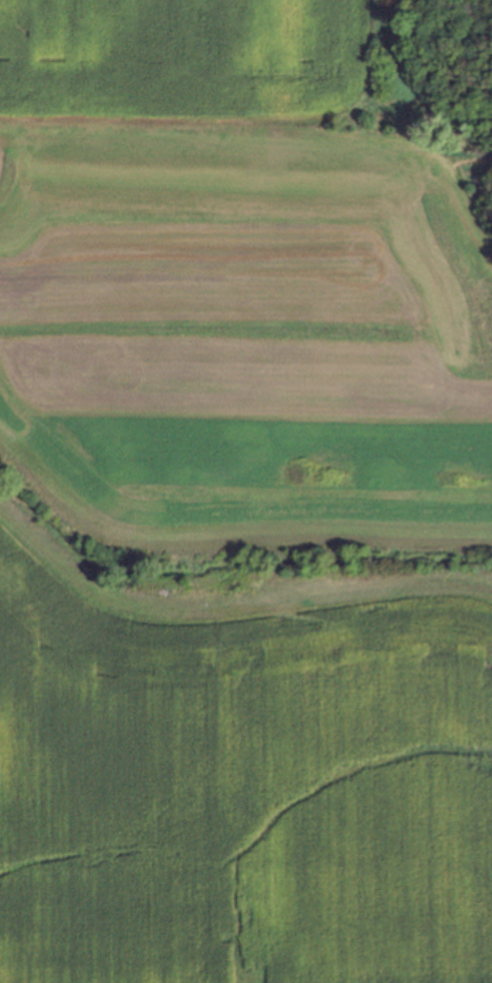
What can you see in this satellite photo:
crop: (242, 779)

